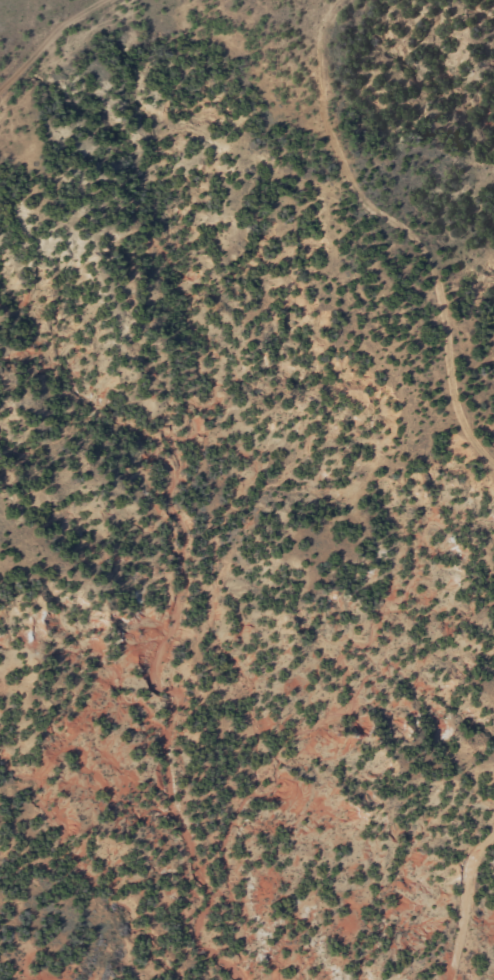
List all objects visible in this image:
road: (43, 50)

